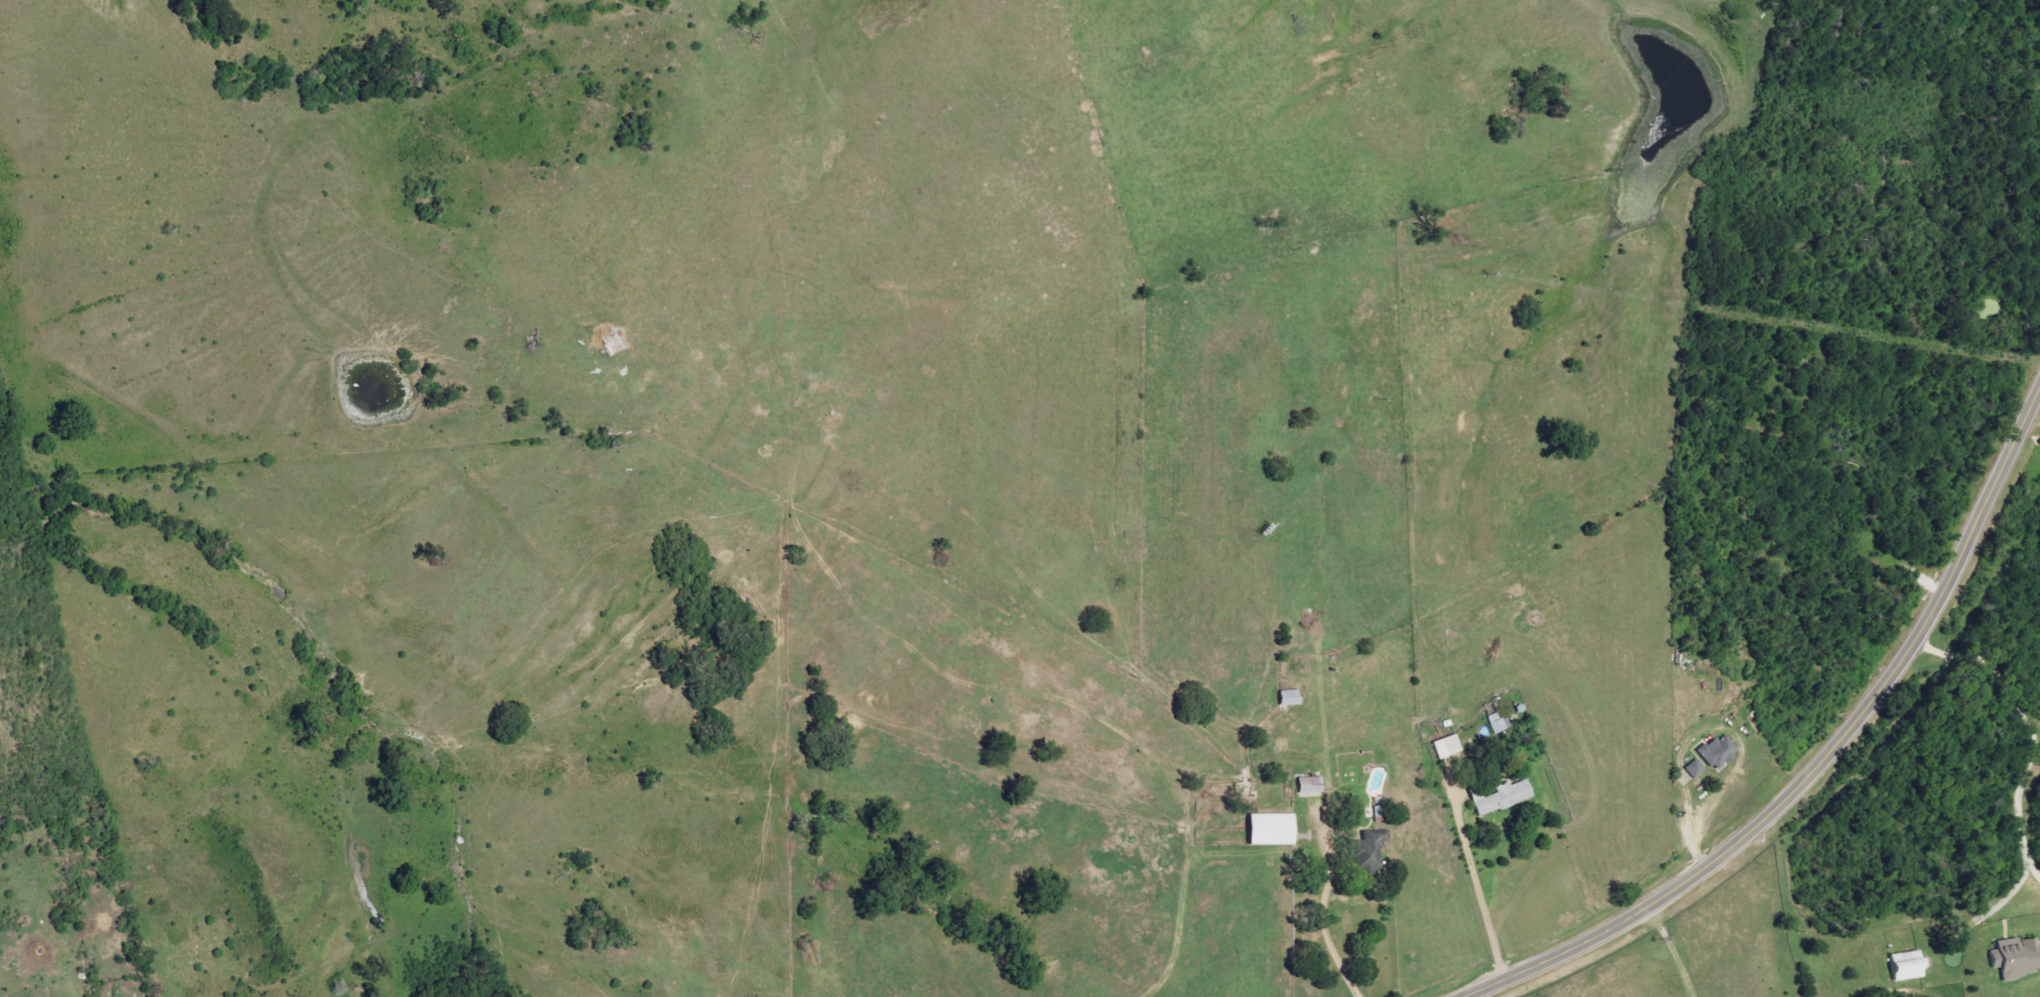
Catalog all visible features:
building: (1291, 697)
building: (1448, 746)
building: (1720, 751)
road: (1826, 761)
building: (1695, 769)
road: (2024, 785)
building: (1312, 786)
building: (1503, 797)
building: (1274, 829)
building: (1373, 850)
road: (1482, 890)
road: (1324, 922)
building: (2017, 958)

